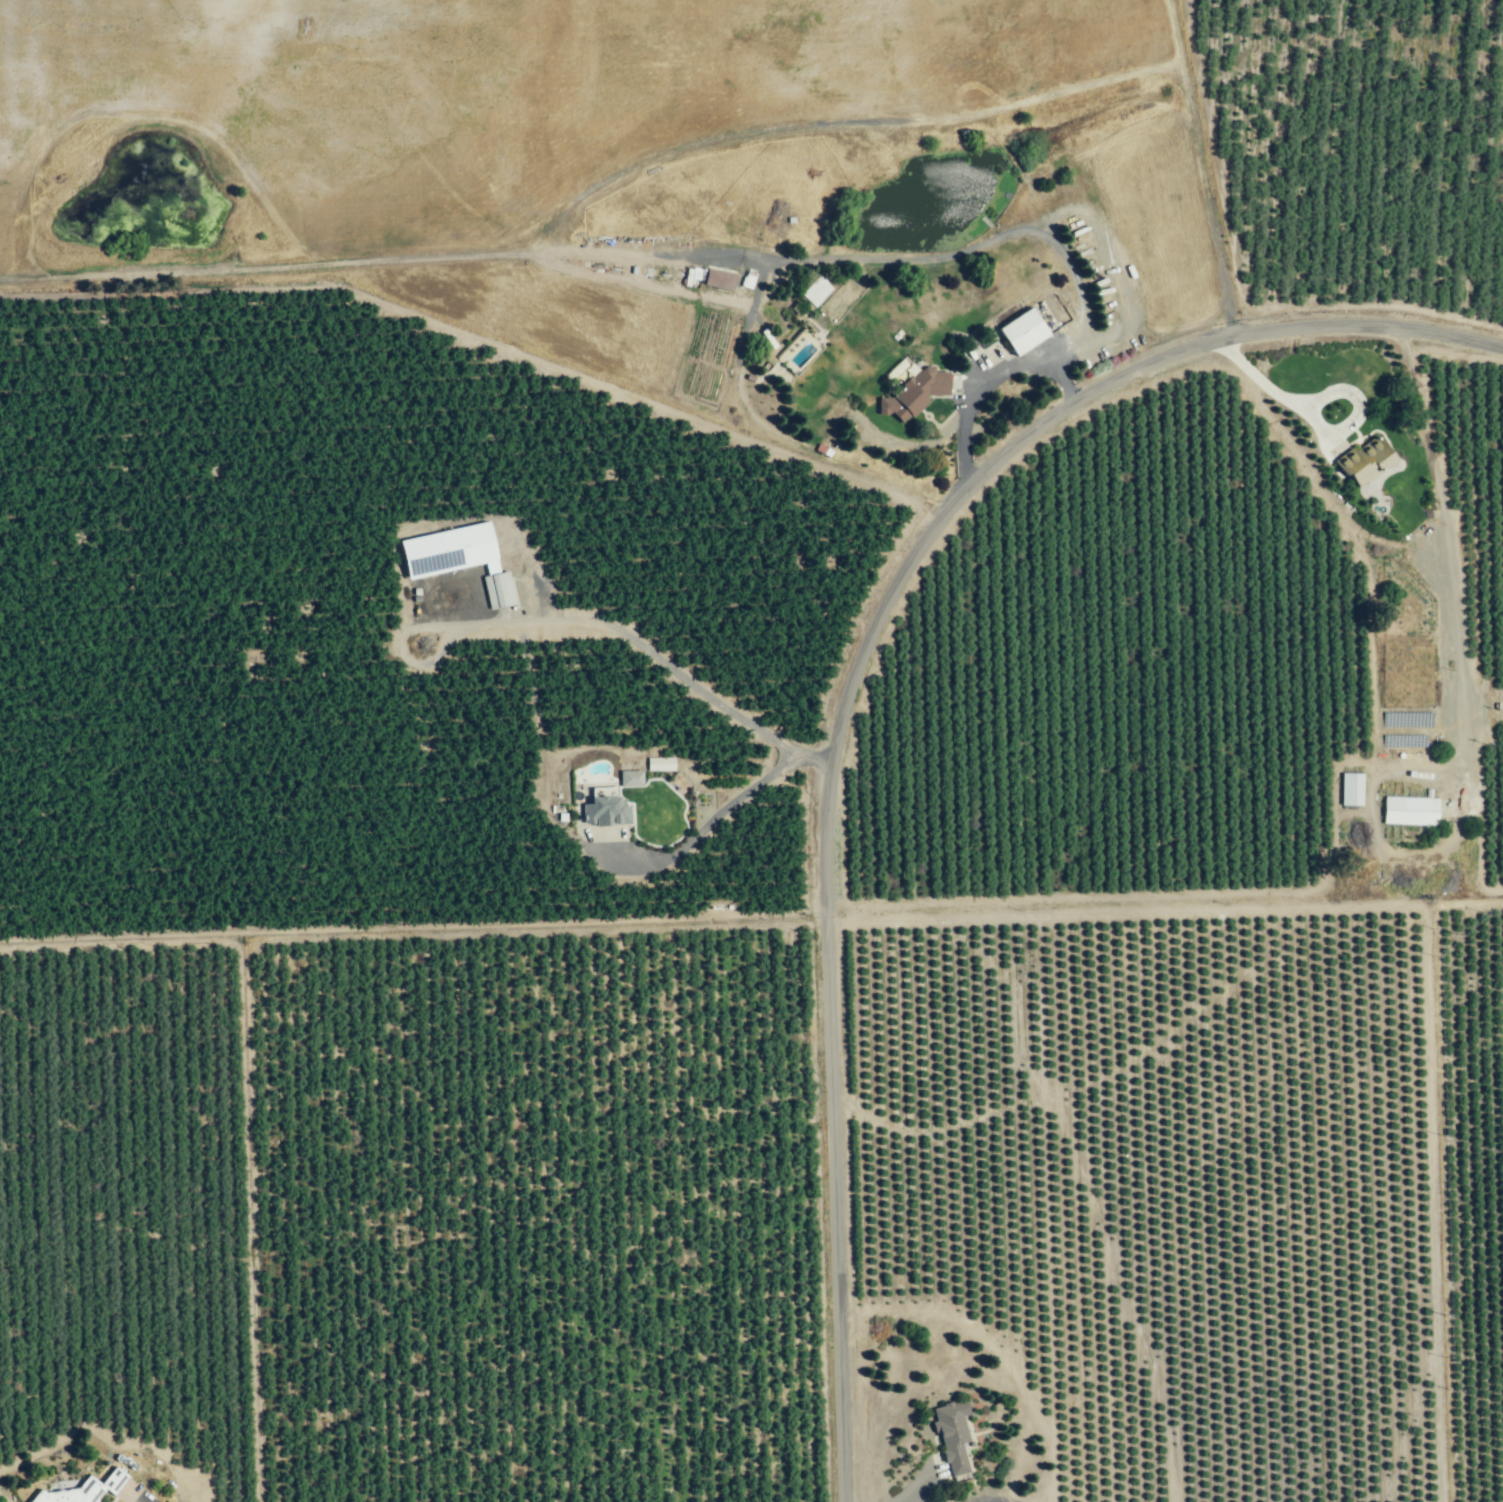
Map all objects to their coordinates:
crop: (790, 147)
road: (901, 253)
crop: (7, 278)
road: (1122, 314)
building: (1018, 331)
road: (1068, 332)
road: (991, 376)
road: (1266, 389)
building: (913, 392)
road: (934, 439)
building: (1359, 463)
building: (461, 557)
road: (639, 643)
road: (846, 683)
building: (1352, 738)
building: (1350, 790)
building: (609, 810)
building: (1409, 811)
road: (711, 819)
crop: (1468, 1081)
crop: (415, 1226)
building: (1290, 1241)
building: (1078, 1328)
building: (1049, 1424)
building: (949, 1436)
road: (908, 1487)
building: (87, 1489)

